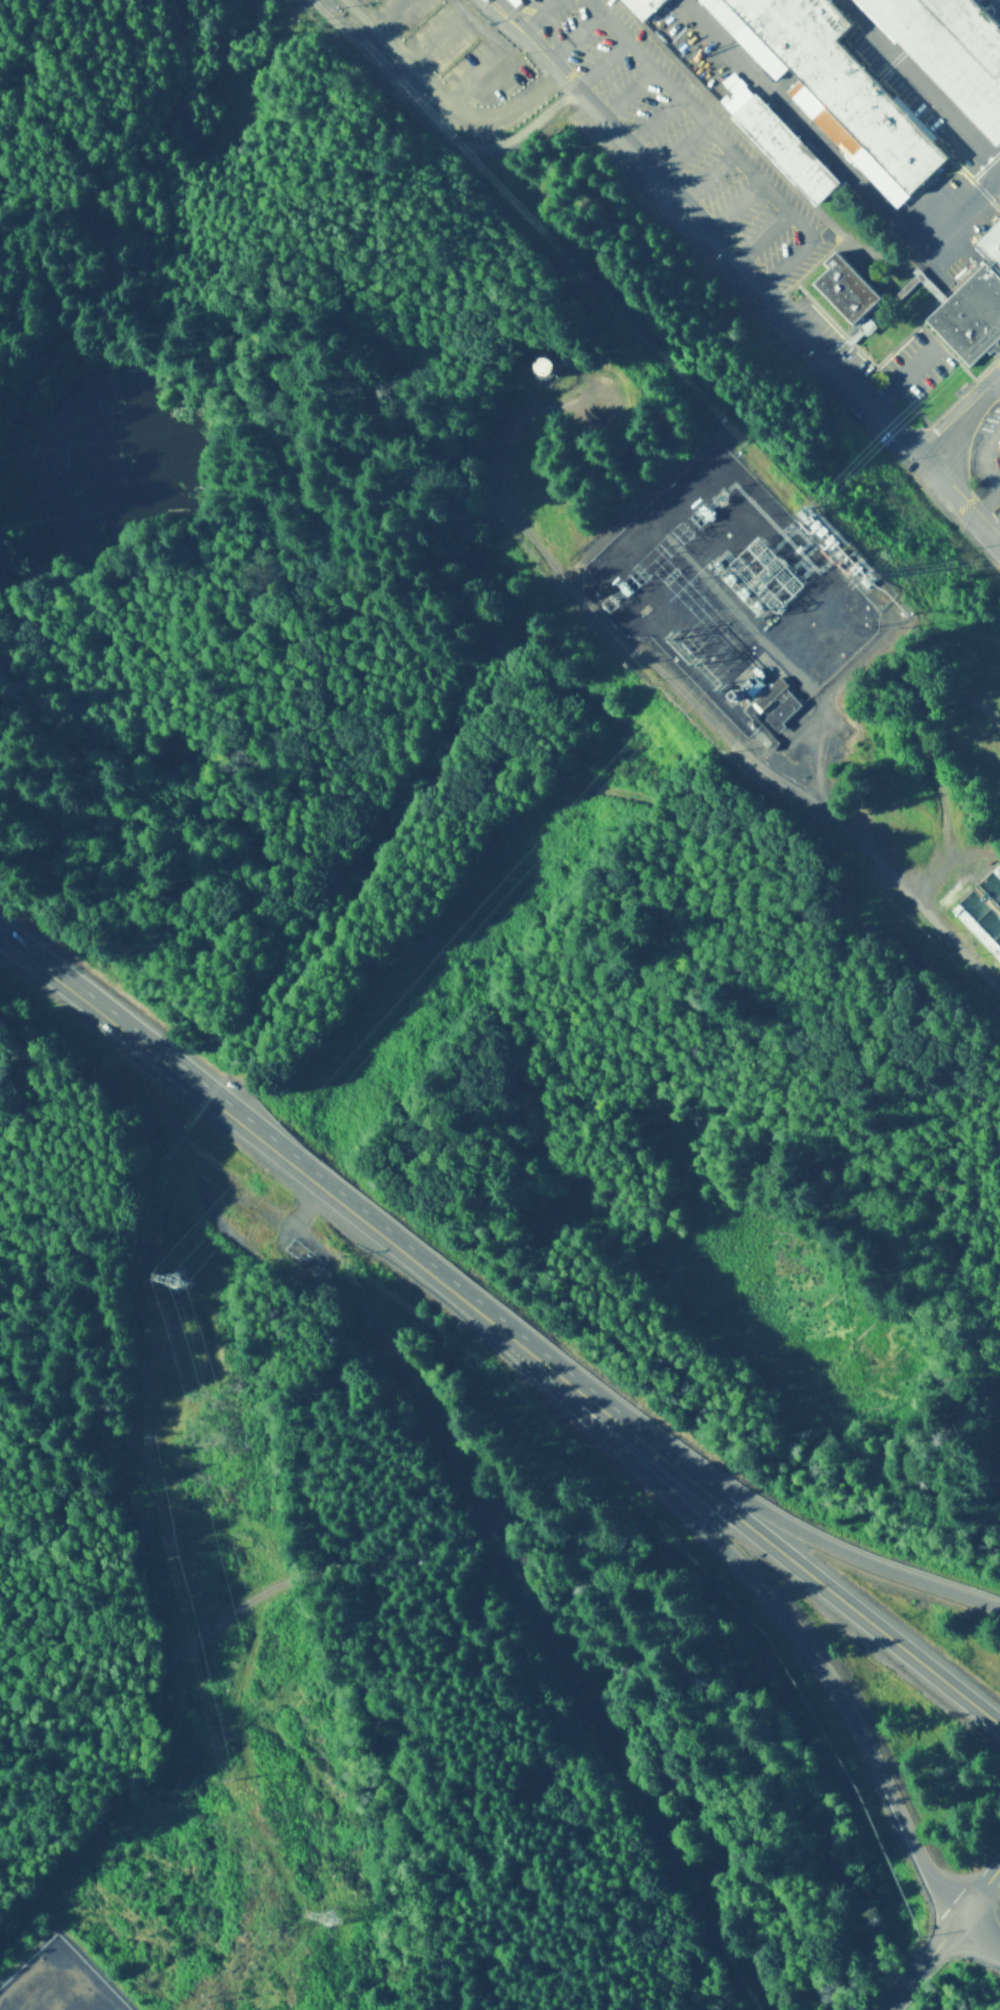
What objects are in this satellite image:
building: (512, 2)
building: (643, 8)
building: (913, 16)
road: (925, 79)
building: (834, 90)
building: (779, 146)
road: (741, 272)
building: (848, 292)
building: (973, 308)
building: (557, 367)
road: (957, 415)
power substation: (739, 587)
building: (784, 714)
building: (983, 913)
road: (247, 1138)
power tower: (182, 1285)
road: (592, 1400)
road: (834, 1551)
road: (599, 1579)
road: (840, 1597)
road: (766, 1599)
power tower: (331, 1922)
road: (978, 1935)
road: (943, 1938)
power substation: (56, 1984)

